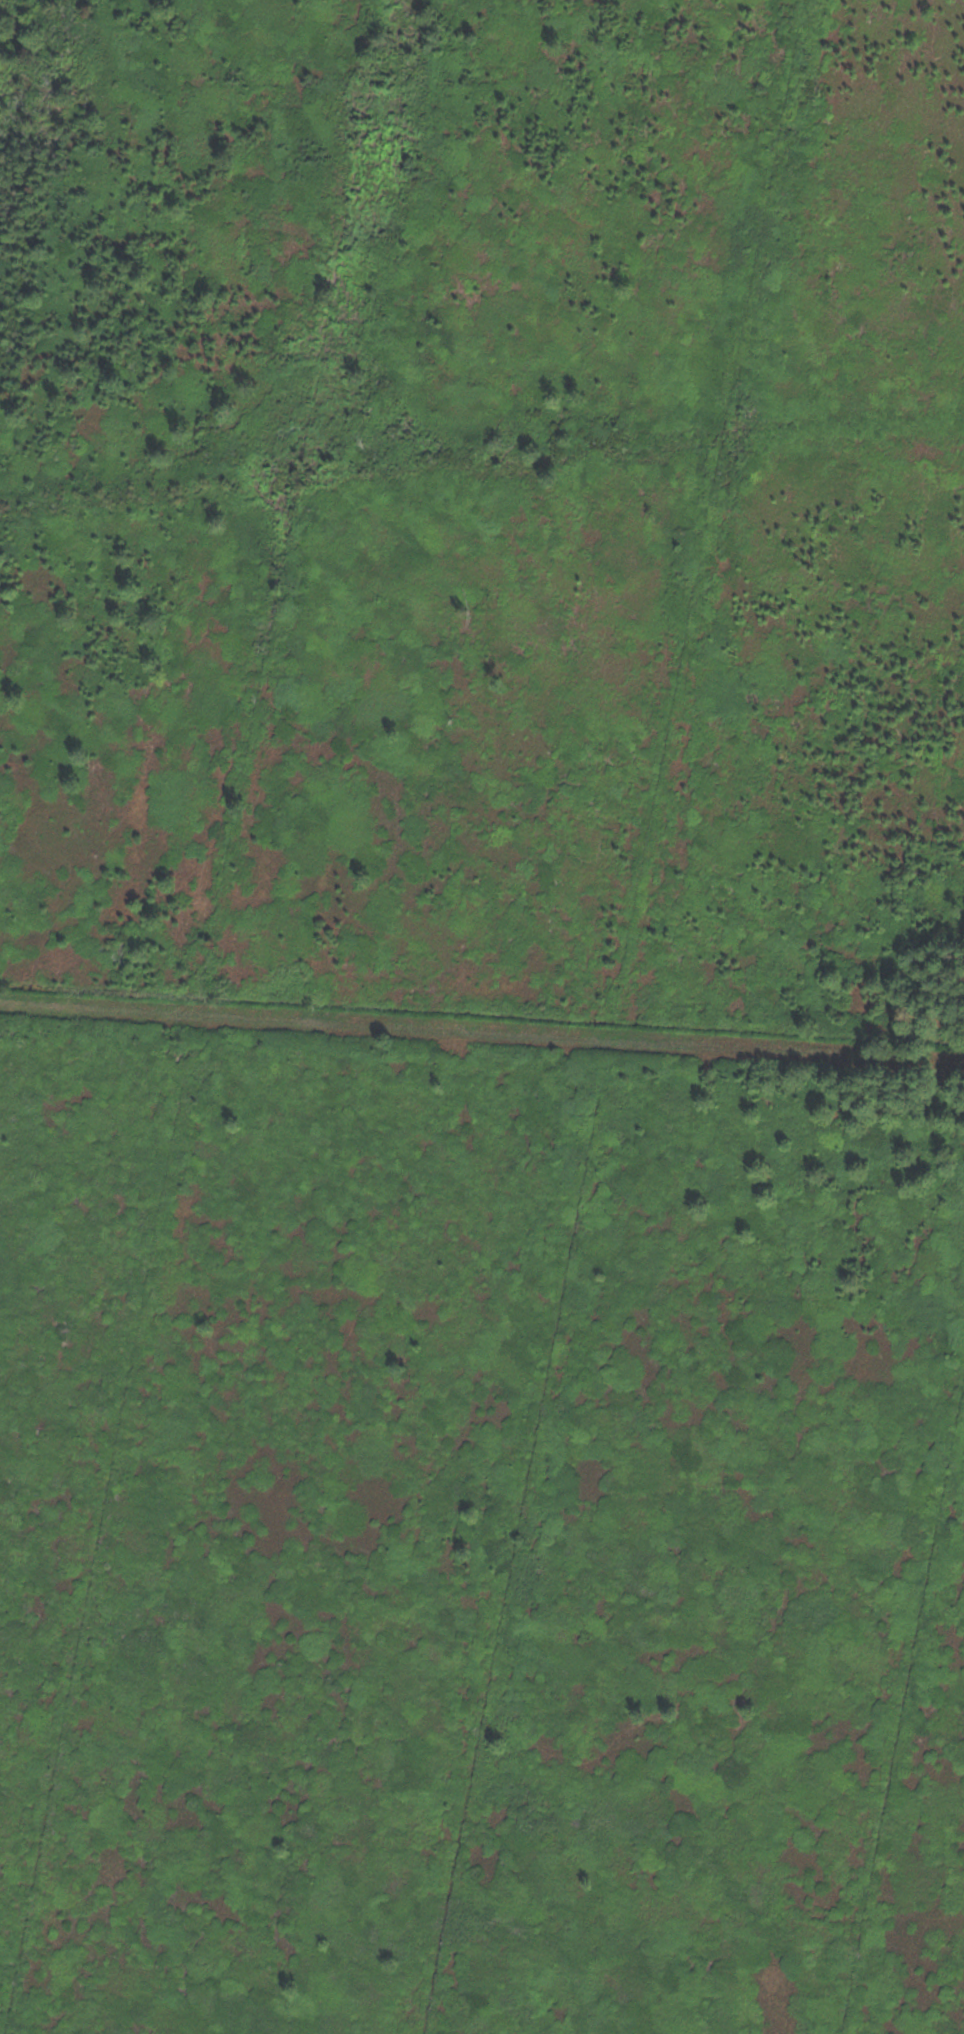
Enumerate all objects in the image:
road: (482, 1029)

